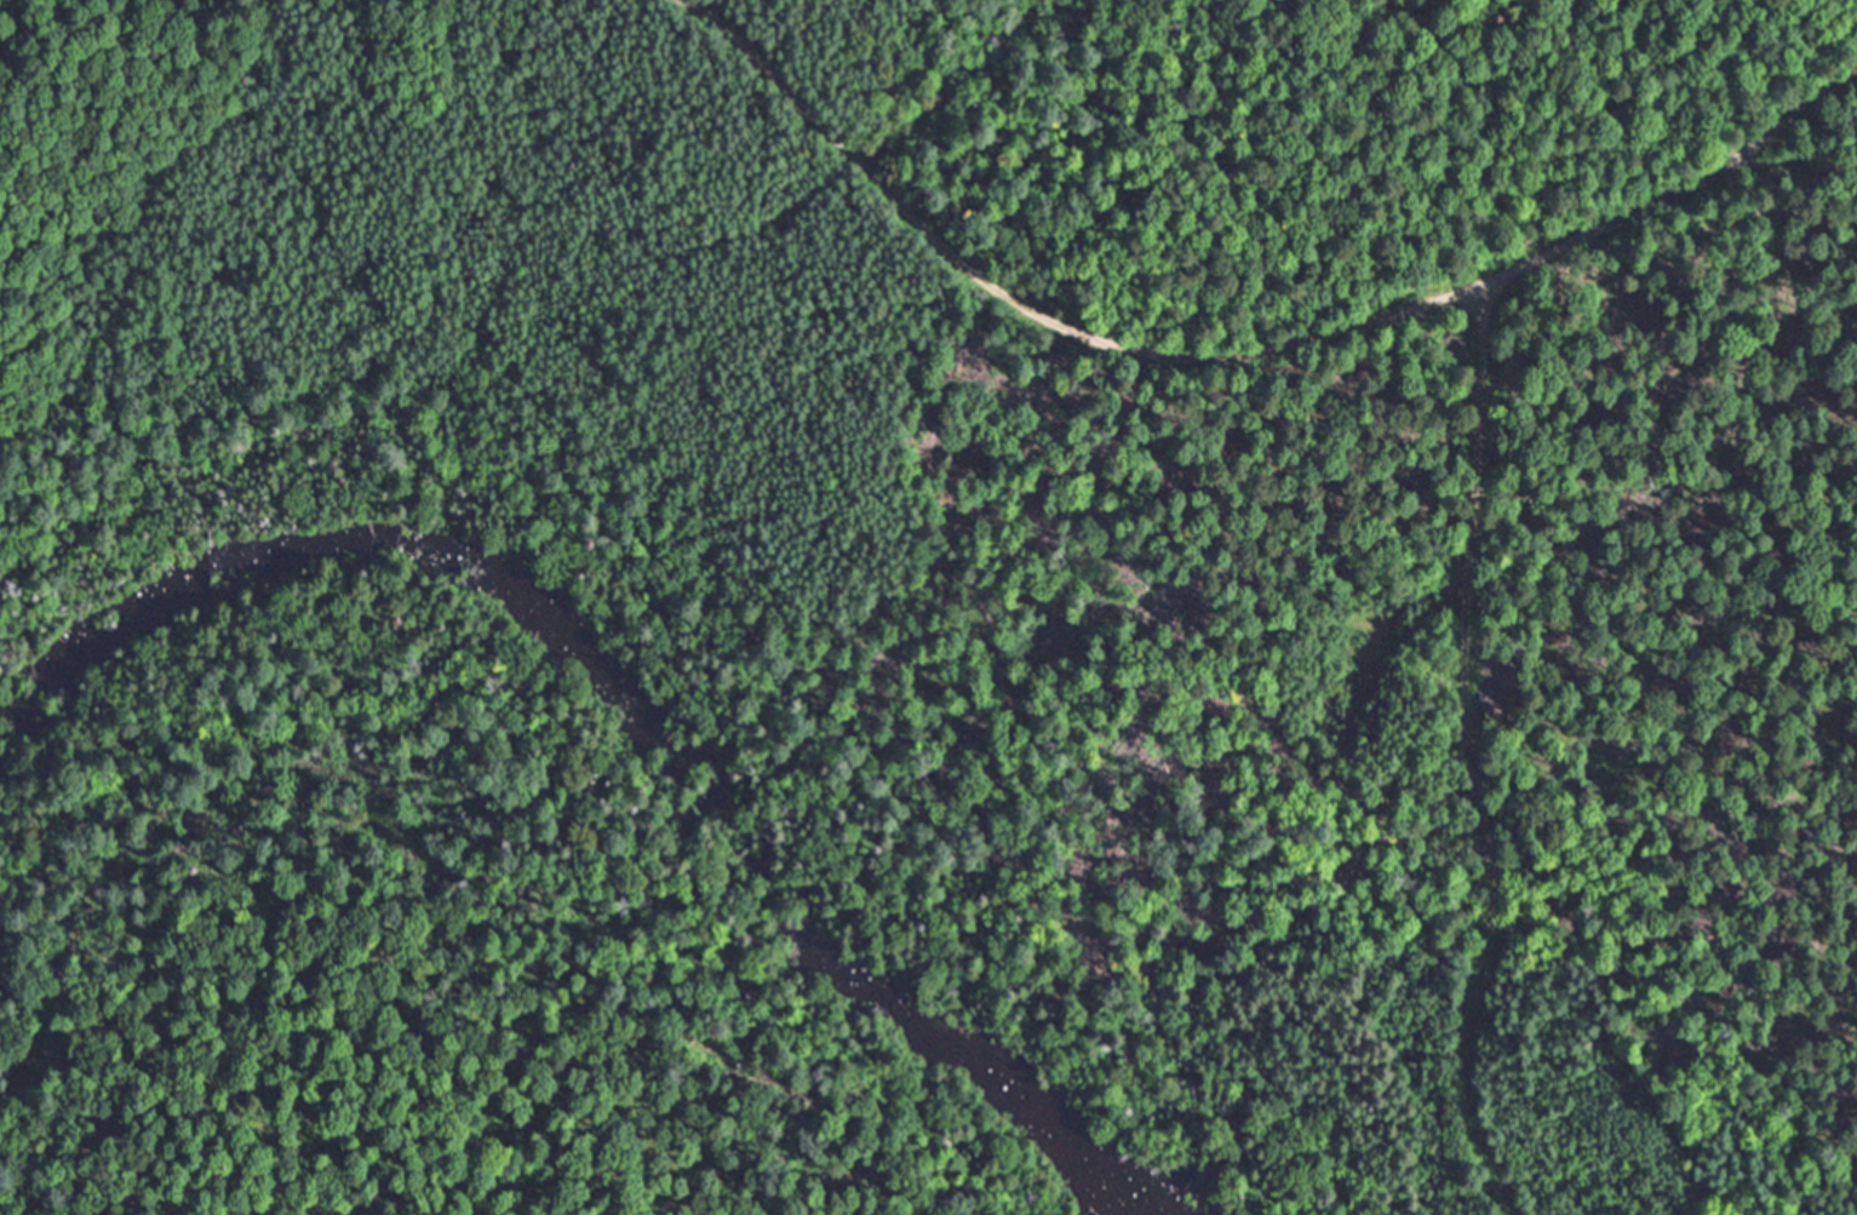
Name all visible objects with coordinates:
road: (1237, 354)
river: (632, 695)

